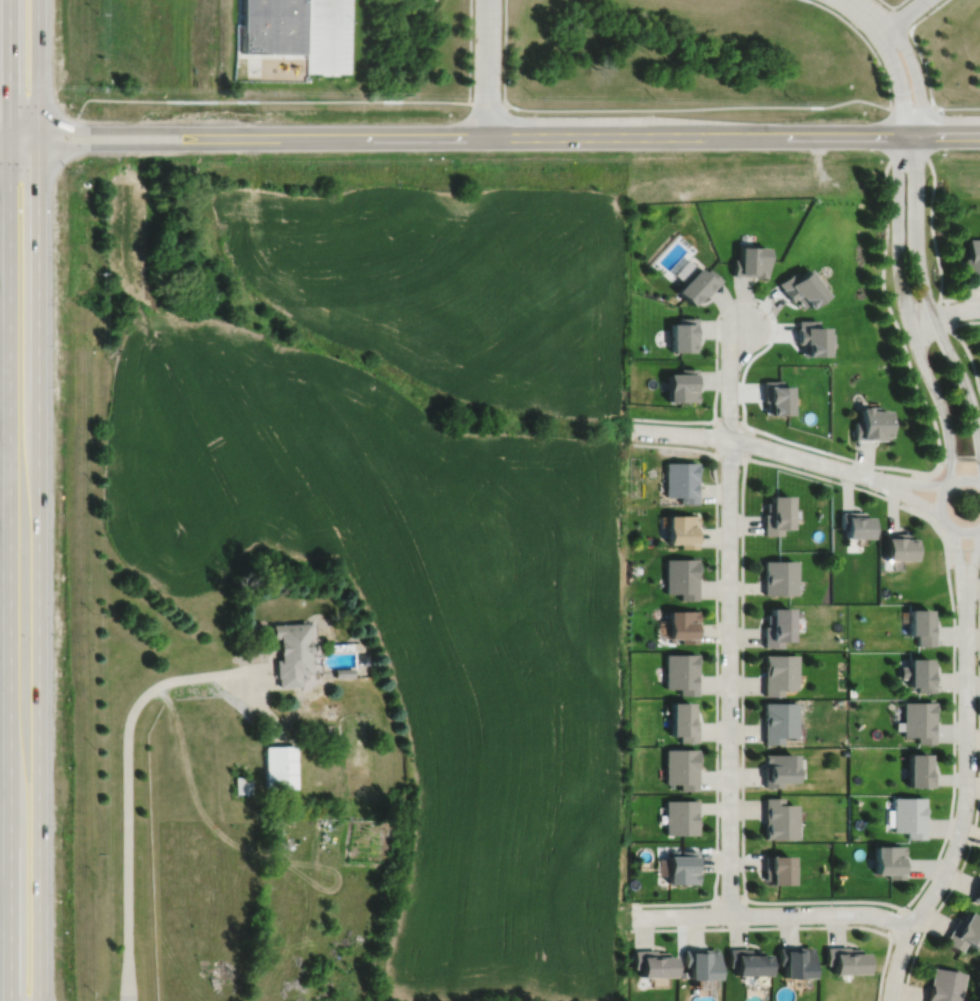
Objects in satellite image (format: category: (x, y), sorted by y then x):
road: (892, 5)
road: (870, 13)
road: (927, 13)
road: (904, 15)
road: (900, 17)
building: (273, 26)
road: (330, 33)
road: (866, 41)
road: (469, 51)
road: (504, 51)
park: (951, 52)
street lamp: (919, 60)
road: (923, 66)
road: (487, 68)
road: (9, 69)
street lamp: (886, 71)
road: (37, 73)
road: (260, 101)
road: (486, 103)
road: (697, 108)
road: (911, 108)
road: (957, 108)
road: (136, 129)
road: (889, 133)
road: (930, 133)
road: (622, 136)
road: (4, 138)
road: (136, 145)
street lamp: (891, 197)
street lamp: (925, 199)
road: (917, 236)
building: (973, 258)
road: (899, 259)
building: (751, 261)
building: (698, 286)
building: (802, 288)
street lamp: (934, 298)
street lamp: (758, 302)
street lamp: (898, 312)
road: (943, 313)
road: (944, 313)
building: (684, 336)
building: (810, 339)
road: (962, 341)
street lamp: (959, 355)
street lamp: (719, 358)
road: (729, 381)
building: (683, 387)
building: (778, 399)
road: (729, 420)
building: (871, 424)
street lamp: (746, 430)
road: (713, 437)
road: (749, 443)
road: (756, 444)
street lamp: (709, 446)
street lamp: (831, 456)
road: (959, 456)
road: (729, 459)
street lamp: (942, 463)
road: (920, 471)
building: (681, 480)
road: (912, 483)
road: (907, 488)
road: (909, 497)
street lamp: (906, 504)
road: (940, 505)
road: (904, 507)
building: (778, 513)
building: (854, 523)
building: (683, 529)
building: (898, 544)
street lamp: (738, 552)
road: (958, 559)
road: (973, 561)
road: (963, 565)
road: (10, 569)
street lamp: (979, 569)
road: (38, 573)
building: (682, 576)
building: (778, 576)
building: (684, 624)
building: (921, 625)
building: (776, 626)
street lamp: (720, 650)
building: (293, 651)
street lamp: (957, 652)
road: (258, 669)
building: (343, 672)
building: (682, 672)
building: (778, 673)
building: (919, 673)
road: (202, 675)
road: (716, 676)
road: (729, 676)
road: (166, 698)
road: (259, 706)
building: (919, 720)
building: (684, 721)
building: (777, 721)
street lamp: (739, 747)
street lamp: (976, 749)
building: (281, 767)
building: (682, 767)
building: (776, 769)
building: (920, 770)
building: (244, 784)
road: (966, 804)
road: (977, 806)
building: (909, 816)
building: (682, 817)
building: (777, 819)
road: (126, 835)
street lamp: (720, 841)
street lamp: (947, 843)
building: (889, 861)
building: (683, 867)
building: (775, 870)
building: (977, 893)
road: (729, 895)
street lamp: (835, 904)
street lamp: (631, 907)
road: (773, 915)
road: (893, 920)
street lamp: (723, 925)
road: (793, 927)
building: (964, 933)
street lamp: (917, 942)
building: (846, 961)
building: (795, 962)
building: (746, 963)
building: (653, 964)
building: (700, 964)
building: (944, 985)

